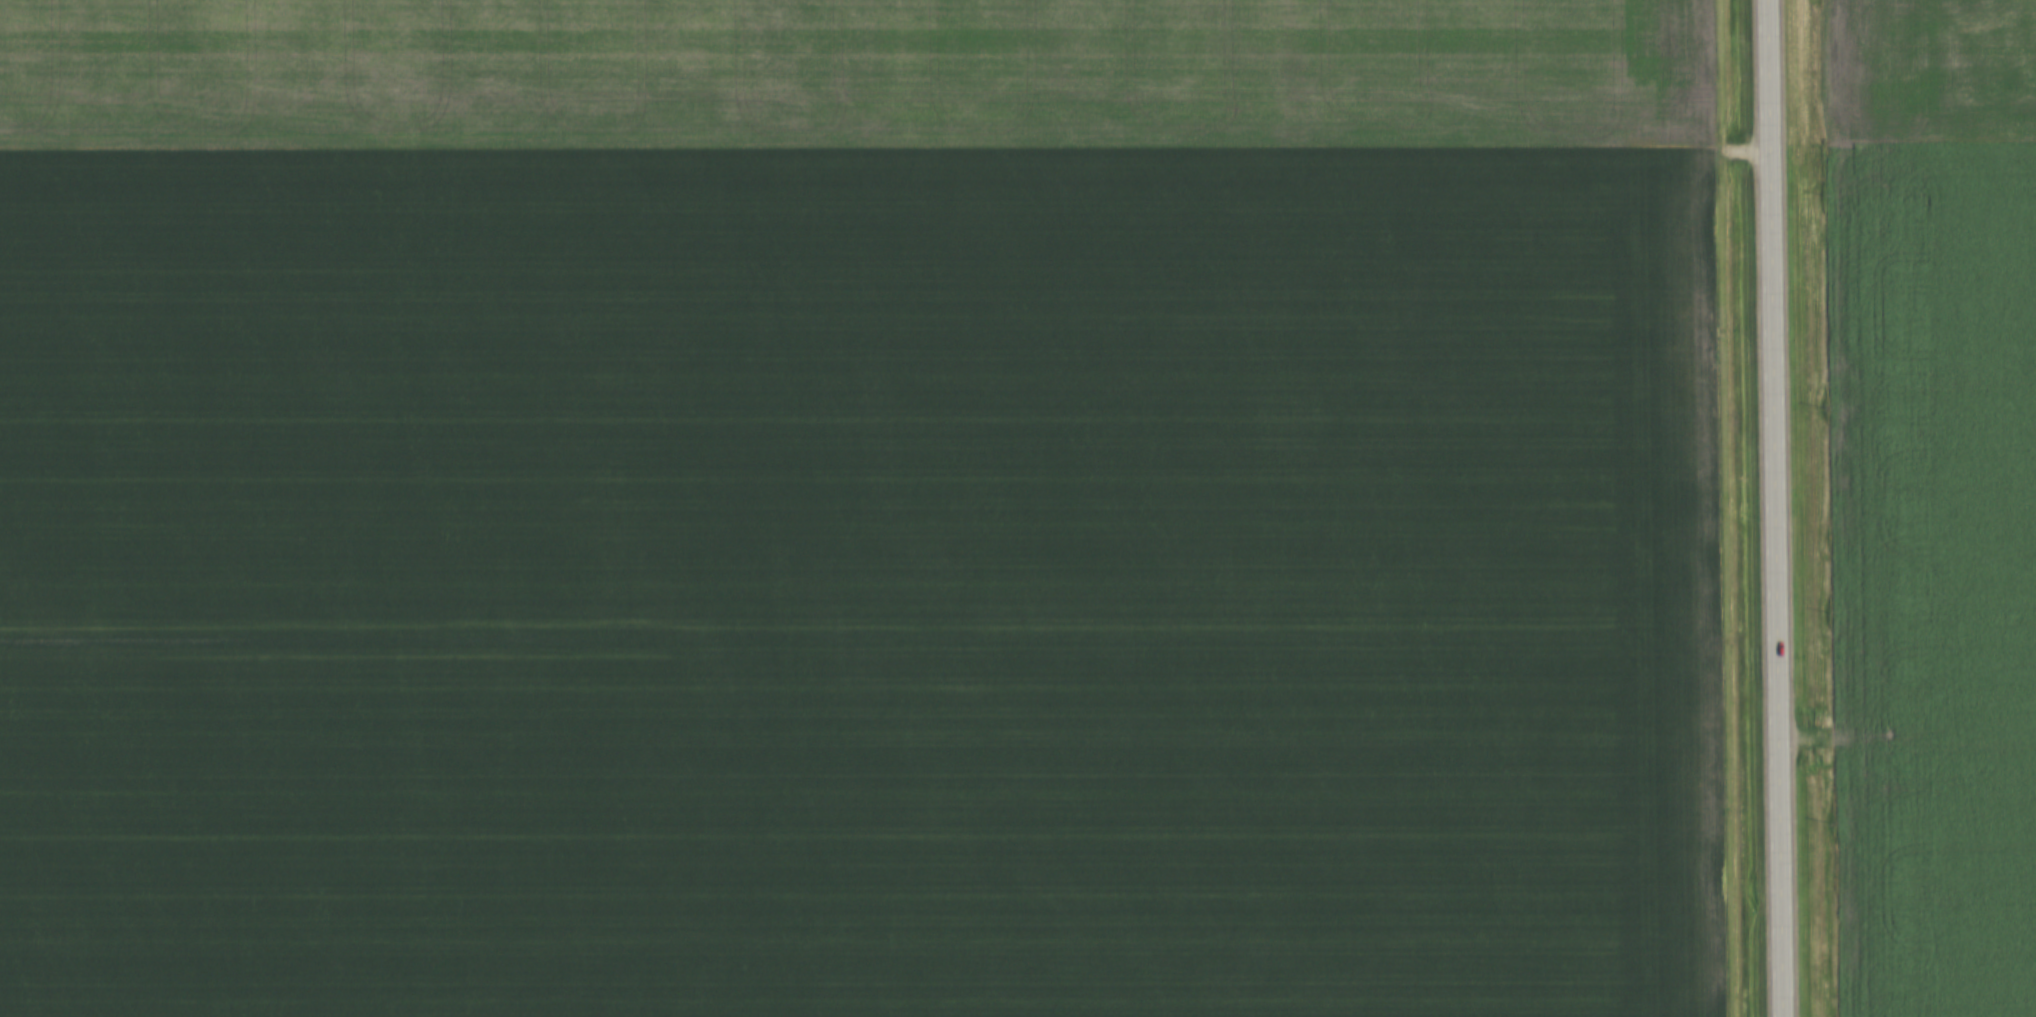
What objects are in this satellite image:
road: (1774, 508)

